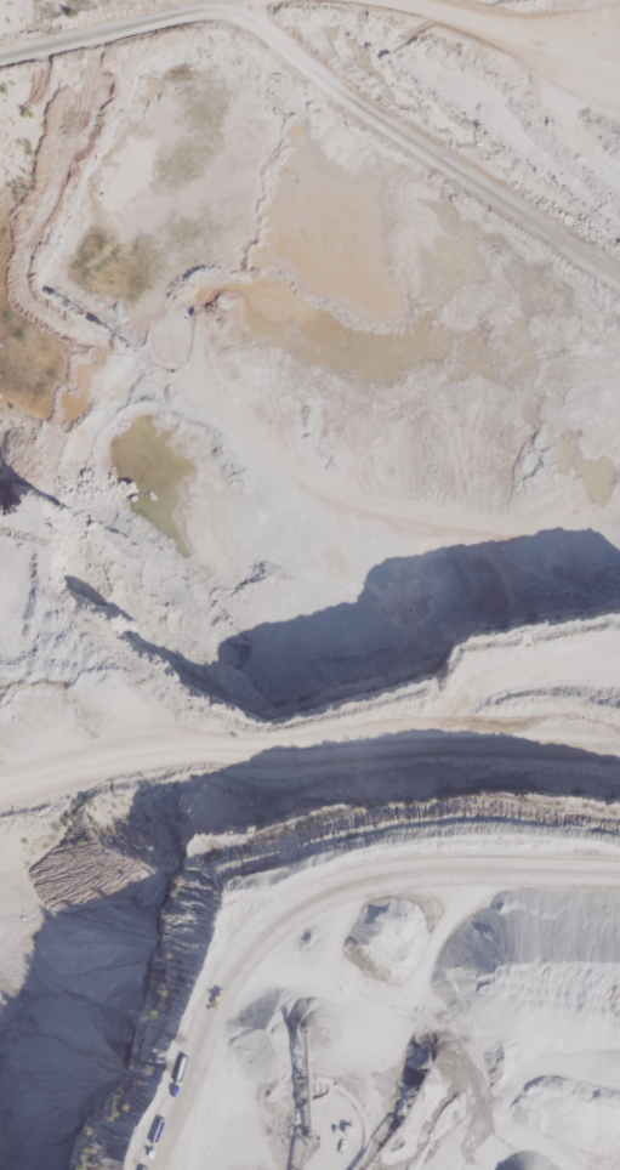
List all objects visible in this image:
quarry: (309, 585)

